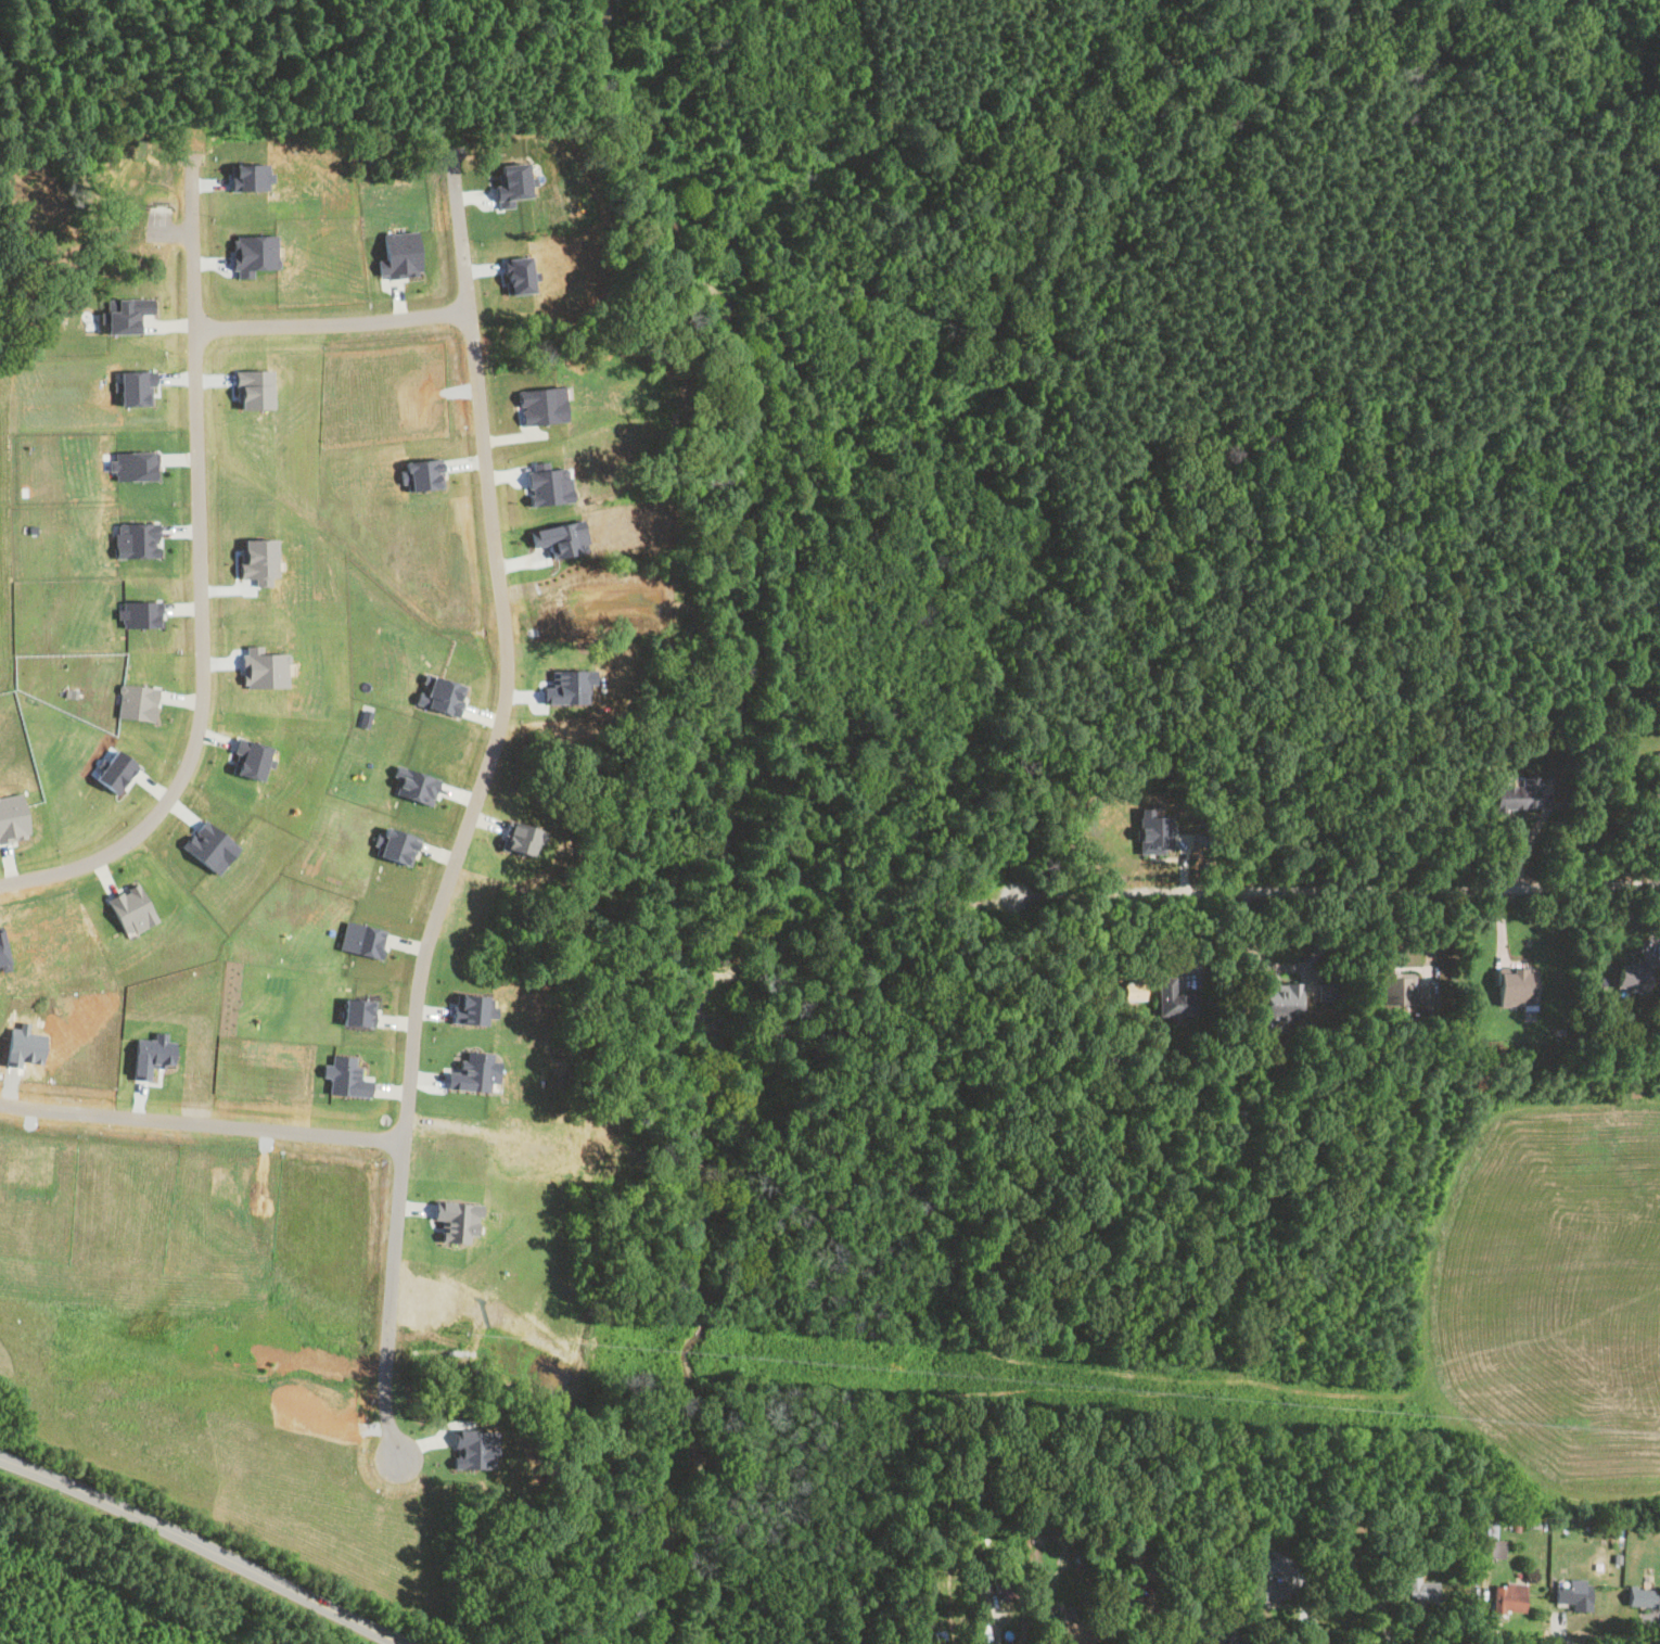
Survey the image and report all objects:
road: (332, 323)
road: (202, 581)
building: (1658, 759)
building: (1516, 794)
road: (470, 812)
building: (1154, 831)
road: (1337, 889)
road: (1287, 965)
building: (1633, 976)
building: (1515, 986)
building: (1403, 992)
building: (1174, 998)
building: (1280, 999)
road: (200, 1121)
building: (1492, 1542)
road: (201, 1545)
building: (1337, 1578)
building: (1268, 1591)
building: (1420, 1591)
building: (1125, 1596)
building: (1571, 1596)
building: (1507, 1598)
building: (1638, 1598)
road: (1387, 1601)
road: (1308, 1603)
road: (1056, 1626)
building: (1078, 1632)
building: (1214, 1635)

